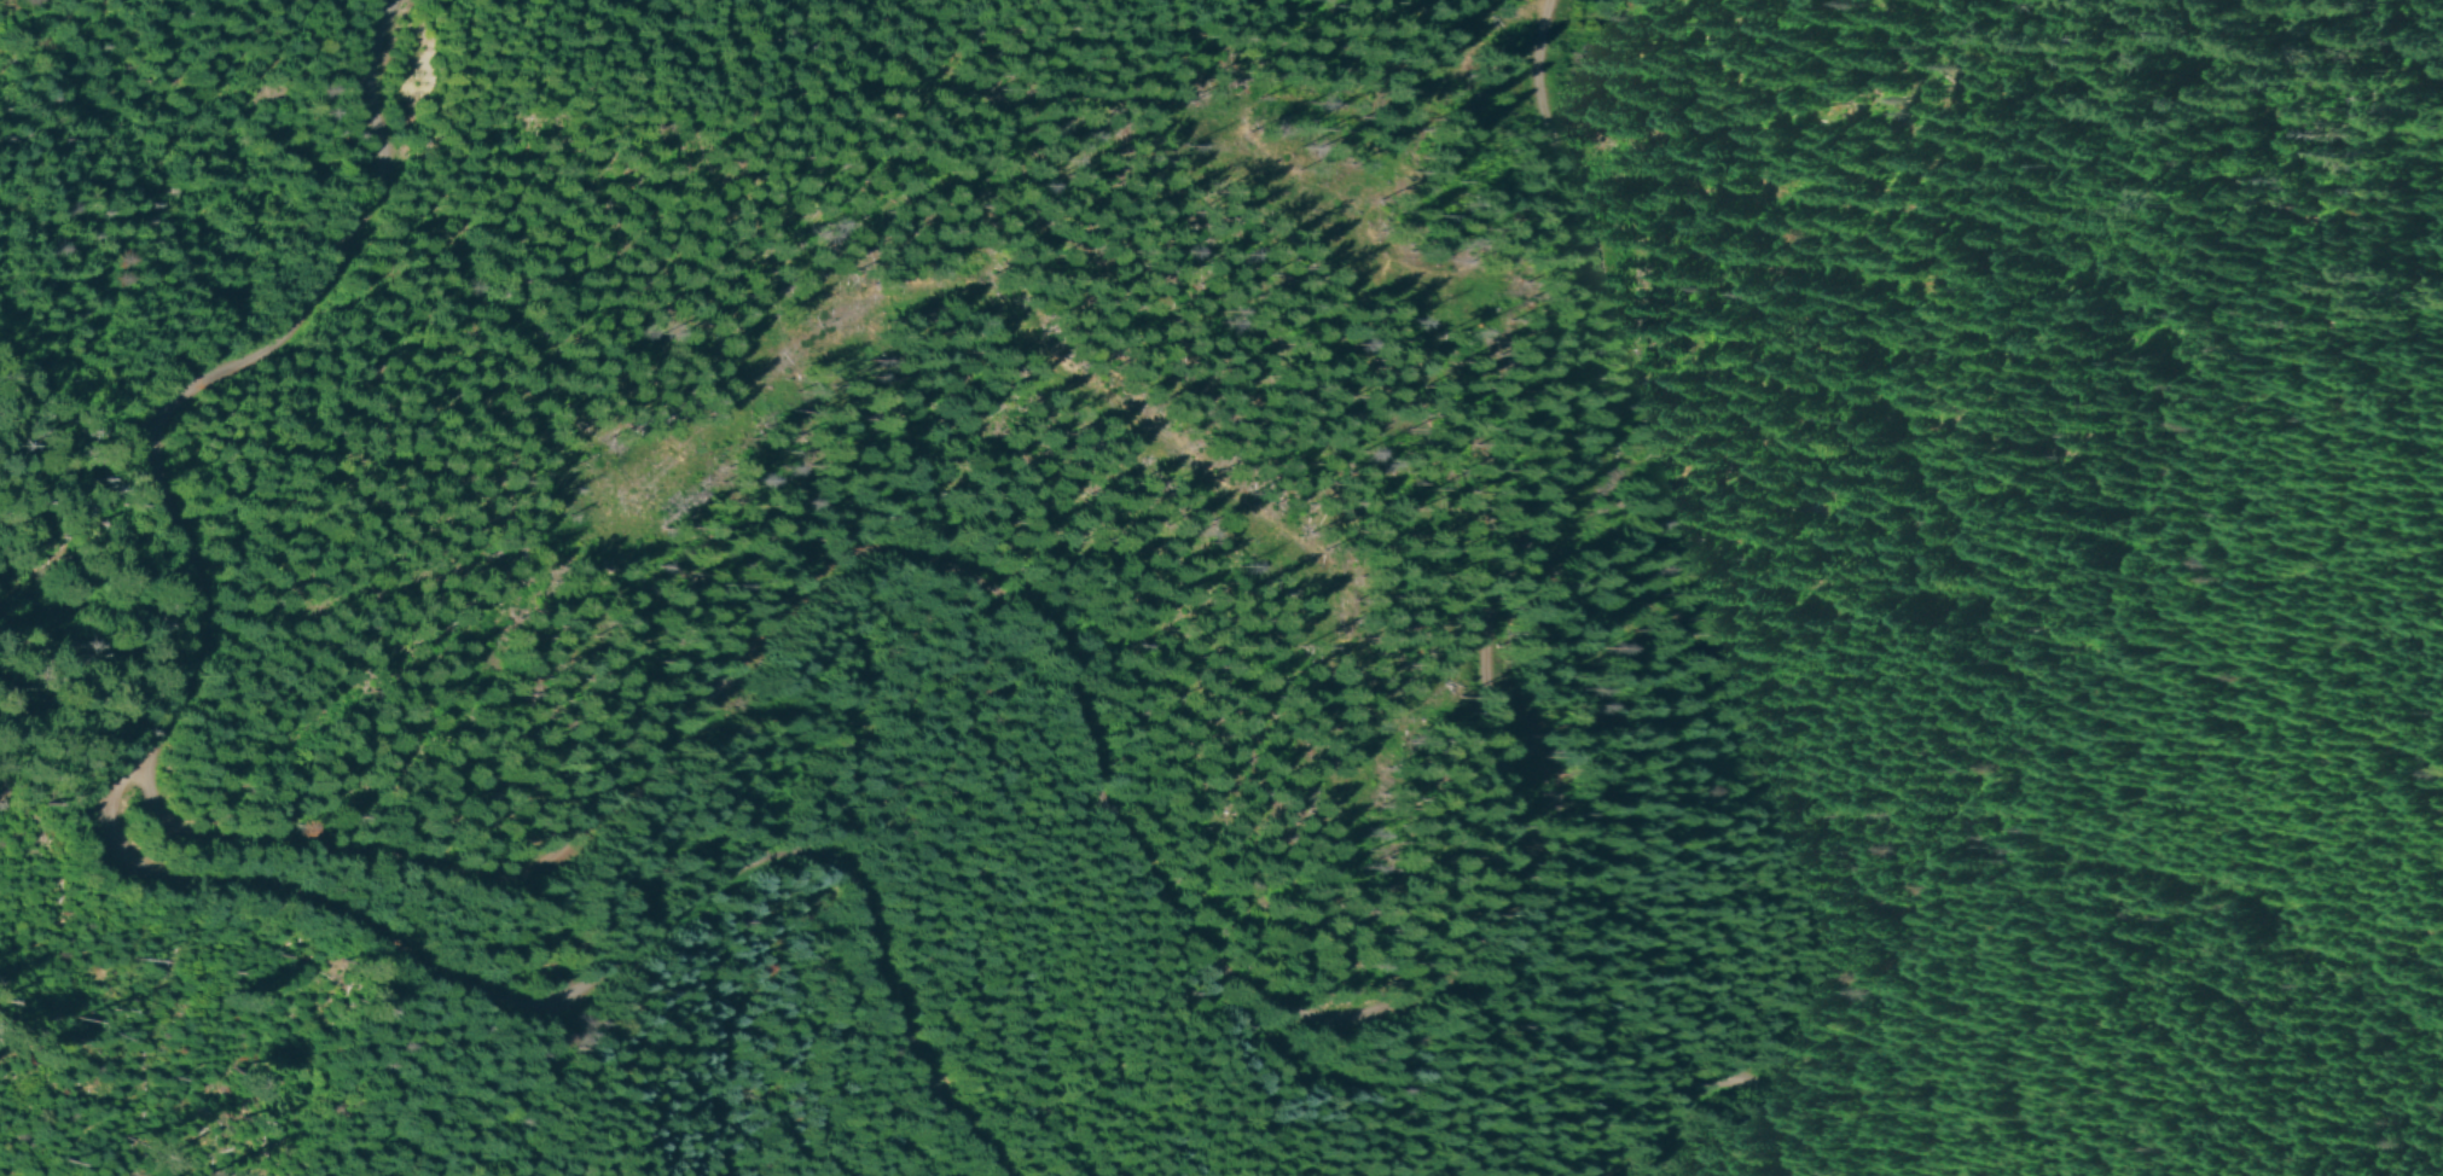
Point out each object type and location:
road: (1133, 866)
road: (179, 880)
road: (1717, 1082)

